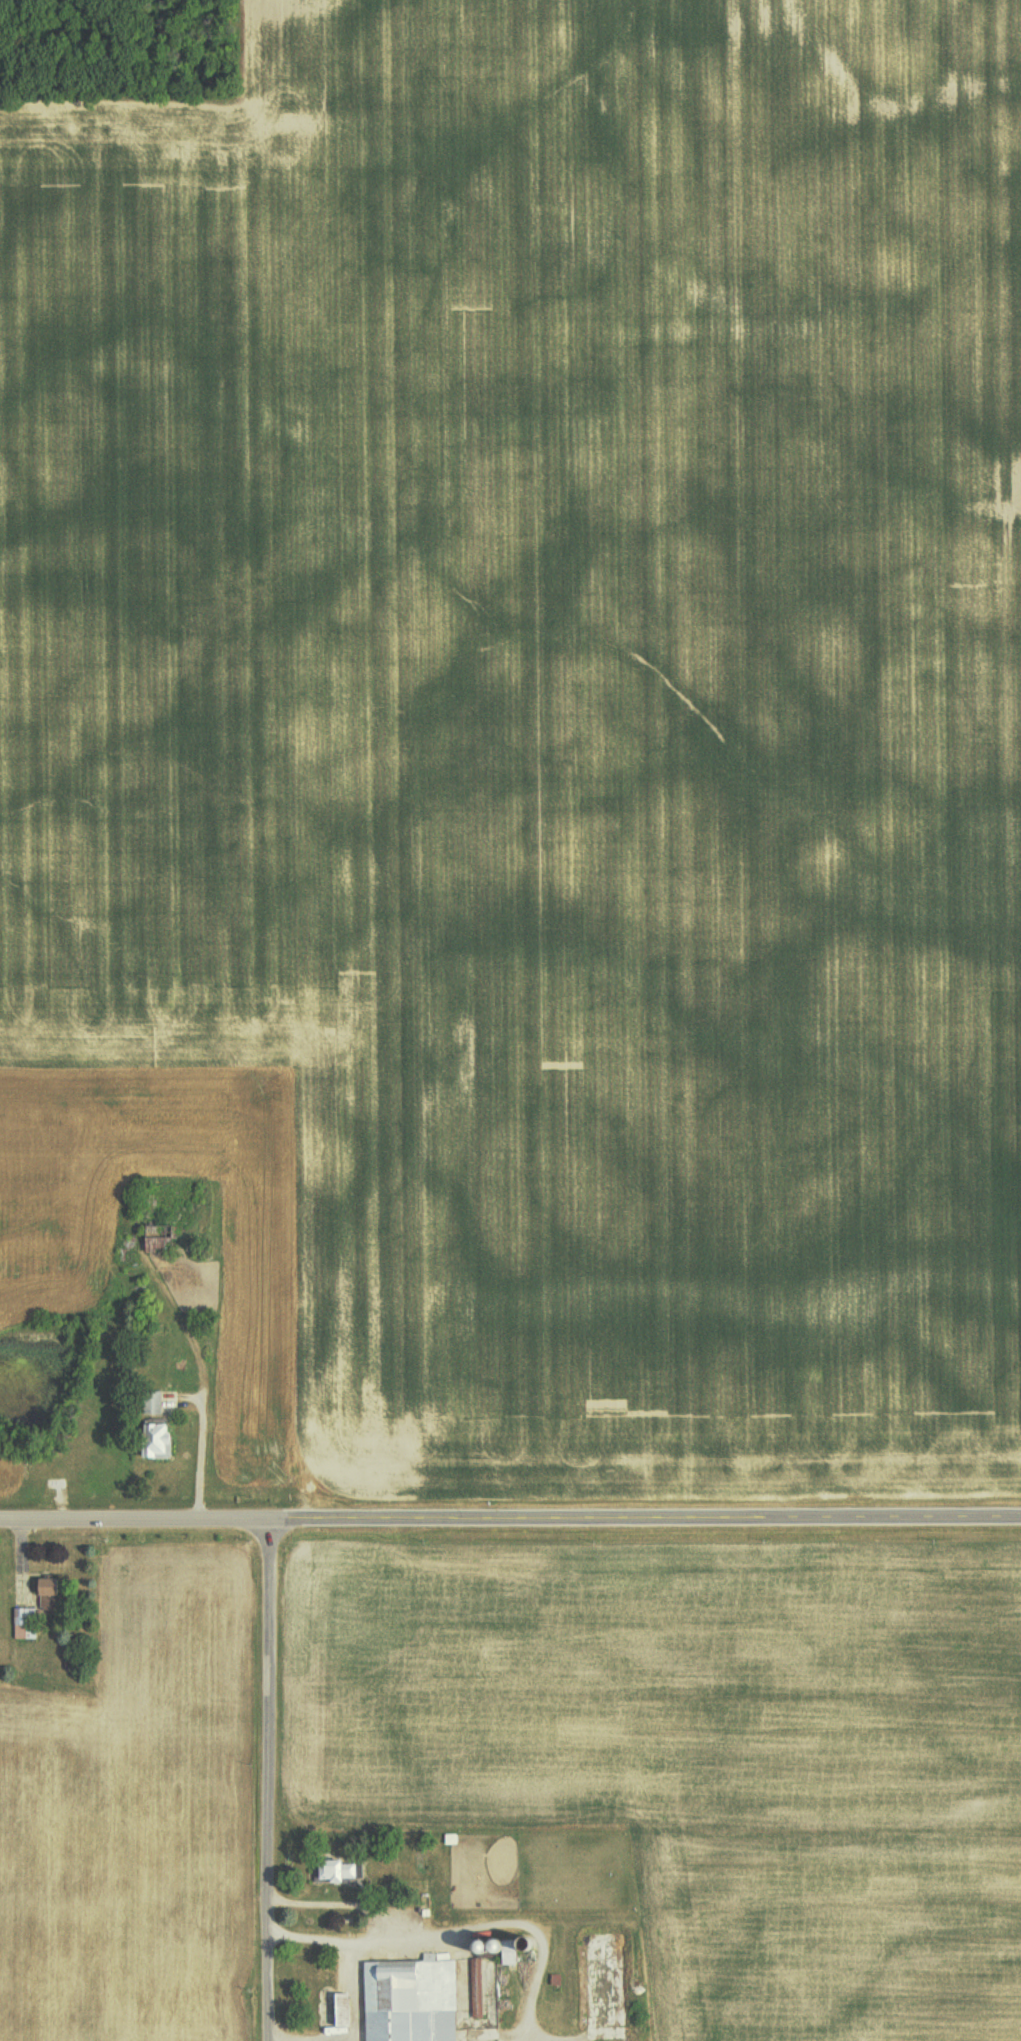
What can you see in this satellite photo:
crop: (549, 701)
building: (151, 1401)
road: (645, 1518)
road: (134, 1519)
building: (43, 1592)
building: (23, 1622)
crop: (713, 1755)
road: (269, 1780)
crop: (136, 1818)
building: (331, 1867)
building: (475, 1988)
building: (408, 1999)
building: (339, 2011)

